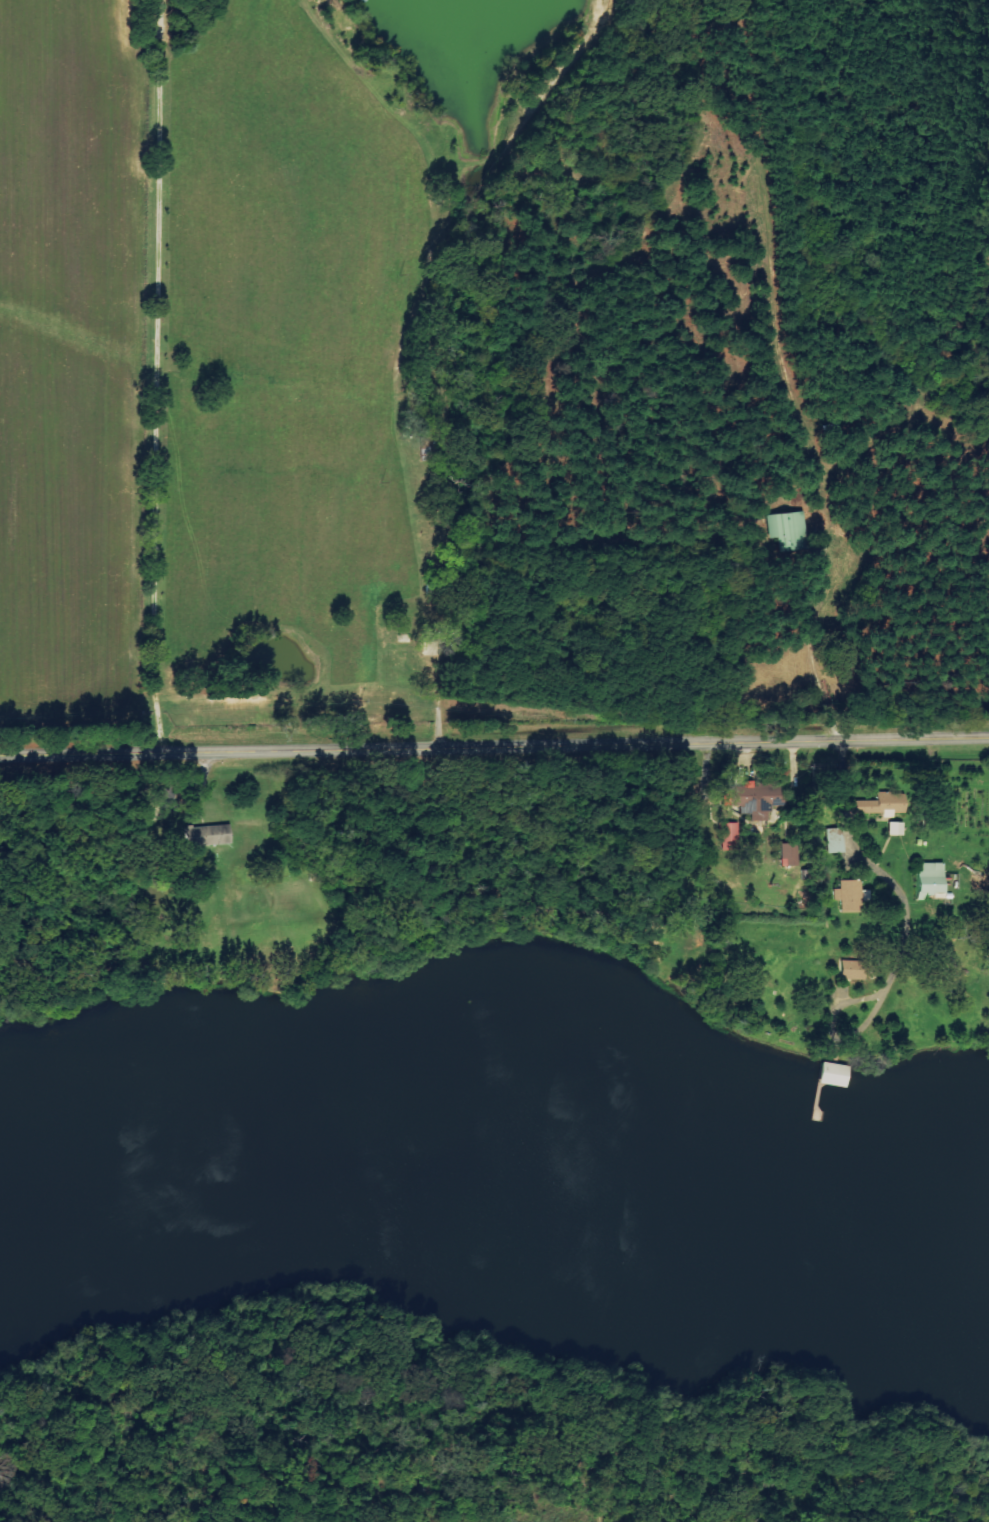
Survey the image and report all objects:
building: (789, 531)
road: (494, 748)
building: (760, 797)
building: (878, 805)
building: (210, 836)
building: (730, 838)
building: (834, 841)
building: (789, 856)
building: (930, 880)
building: (847, 896)
building: (853, 971)

